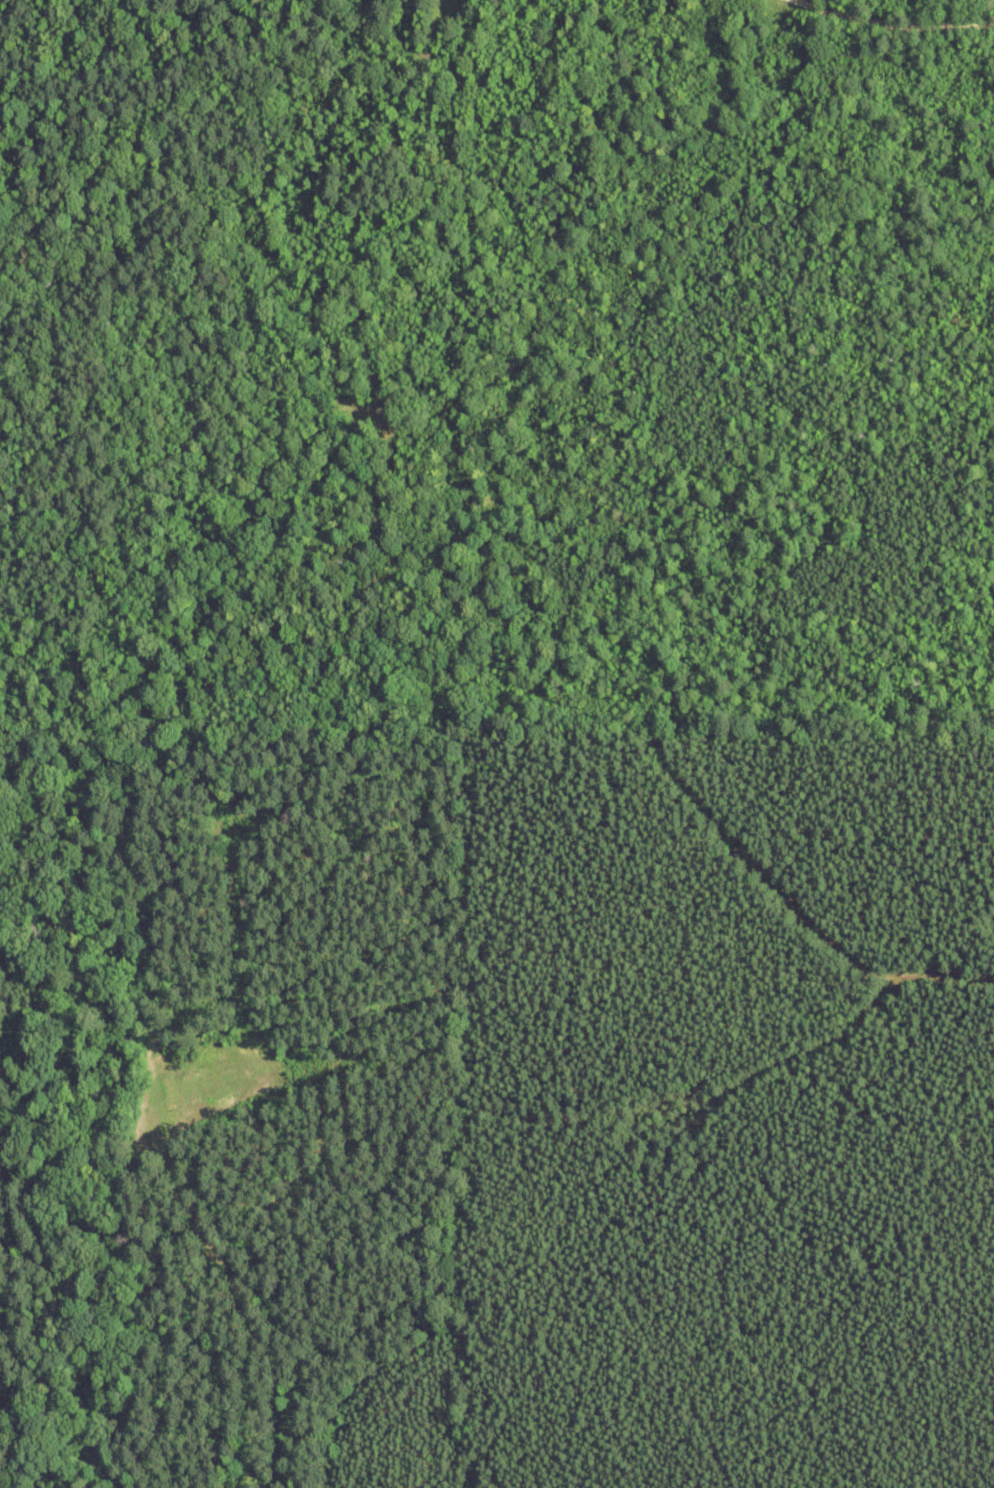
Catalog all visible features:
road: (899, 17)

